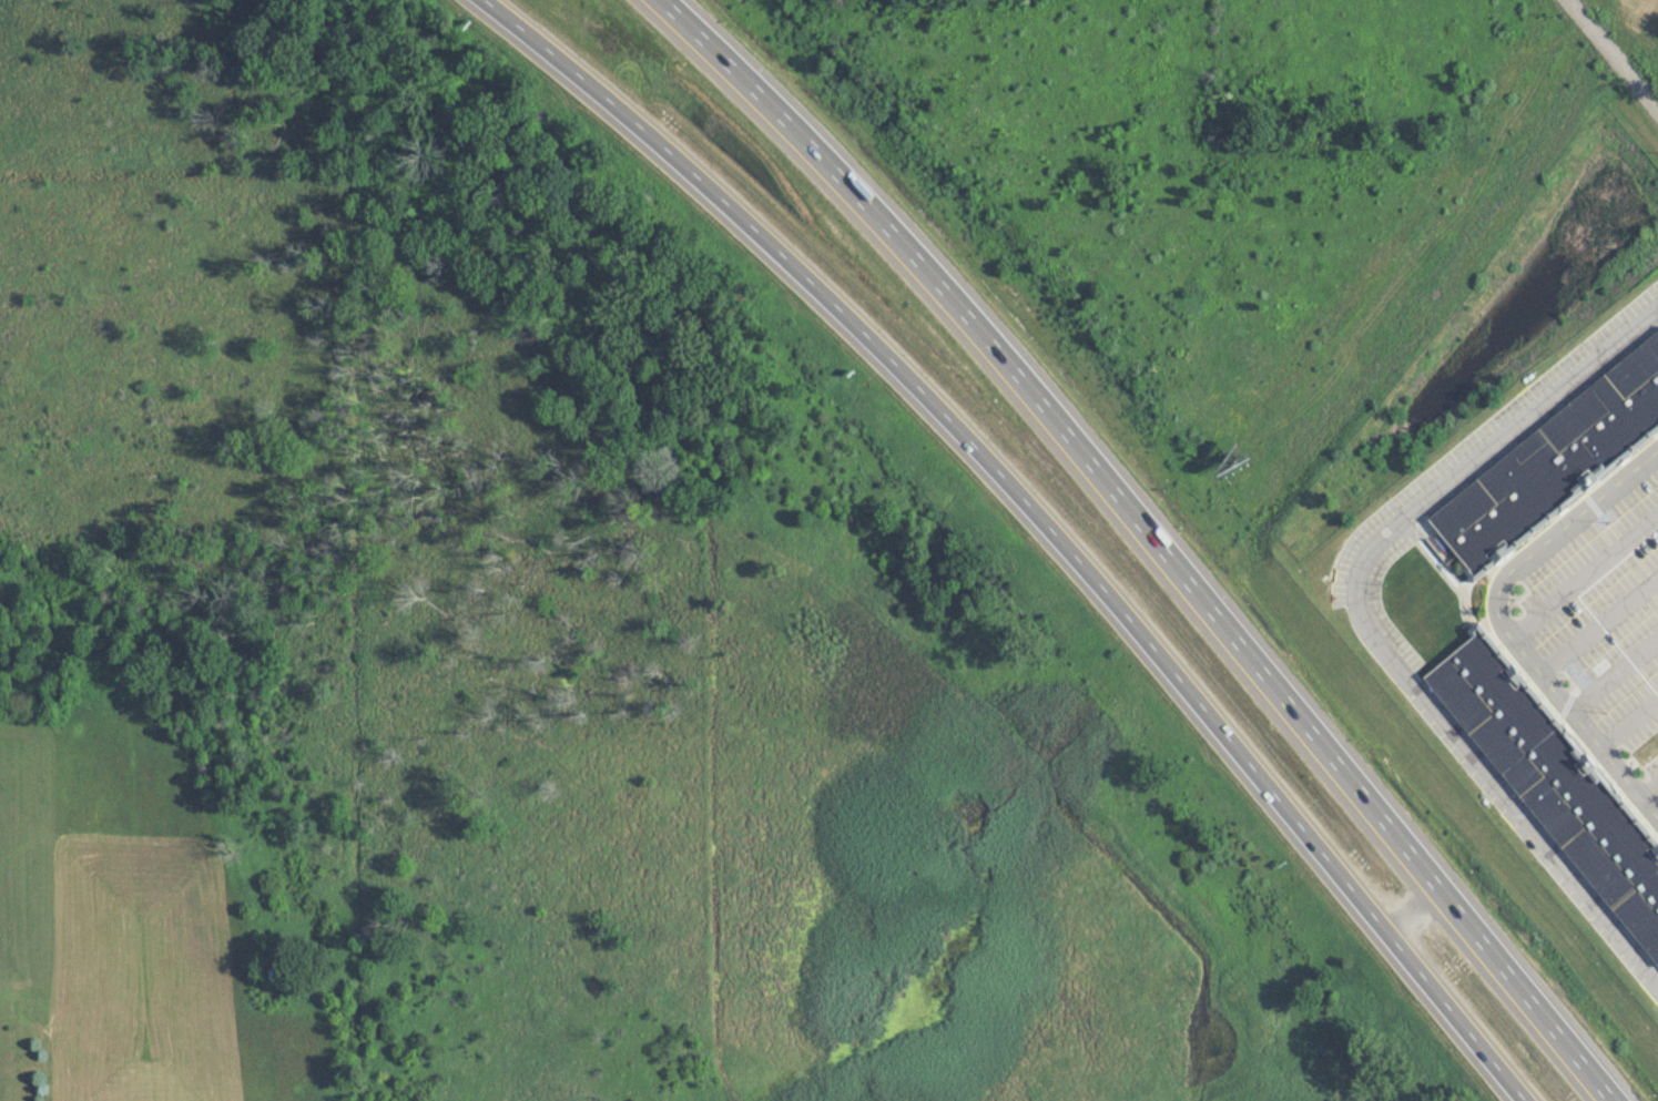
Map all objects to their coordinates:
road: (1614, 53)
building: (1555, 460)
road: (1042, 510)
road: (1161, 538)
road: (1587, 573)
road: (1503, 614)
road: (1604, 620)
road: (1367, 621)
road: (1619, 672)
road: (1632, 717)
building: (1556, 776)
road: (1652, 782)
road: (1416, 907)
building: (277, 973)

